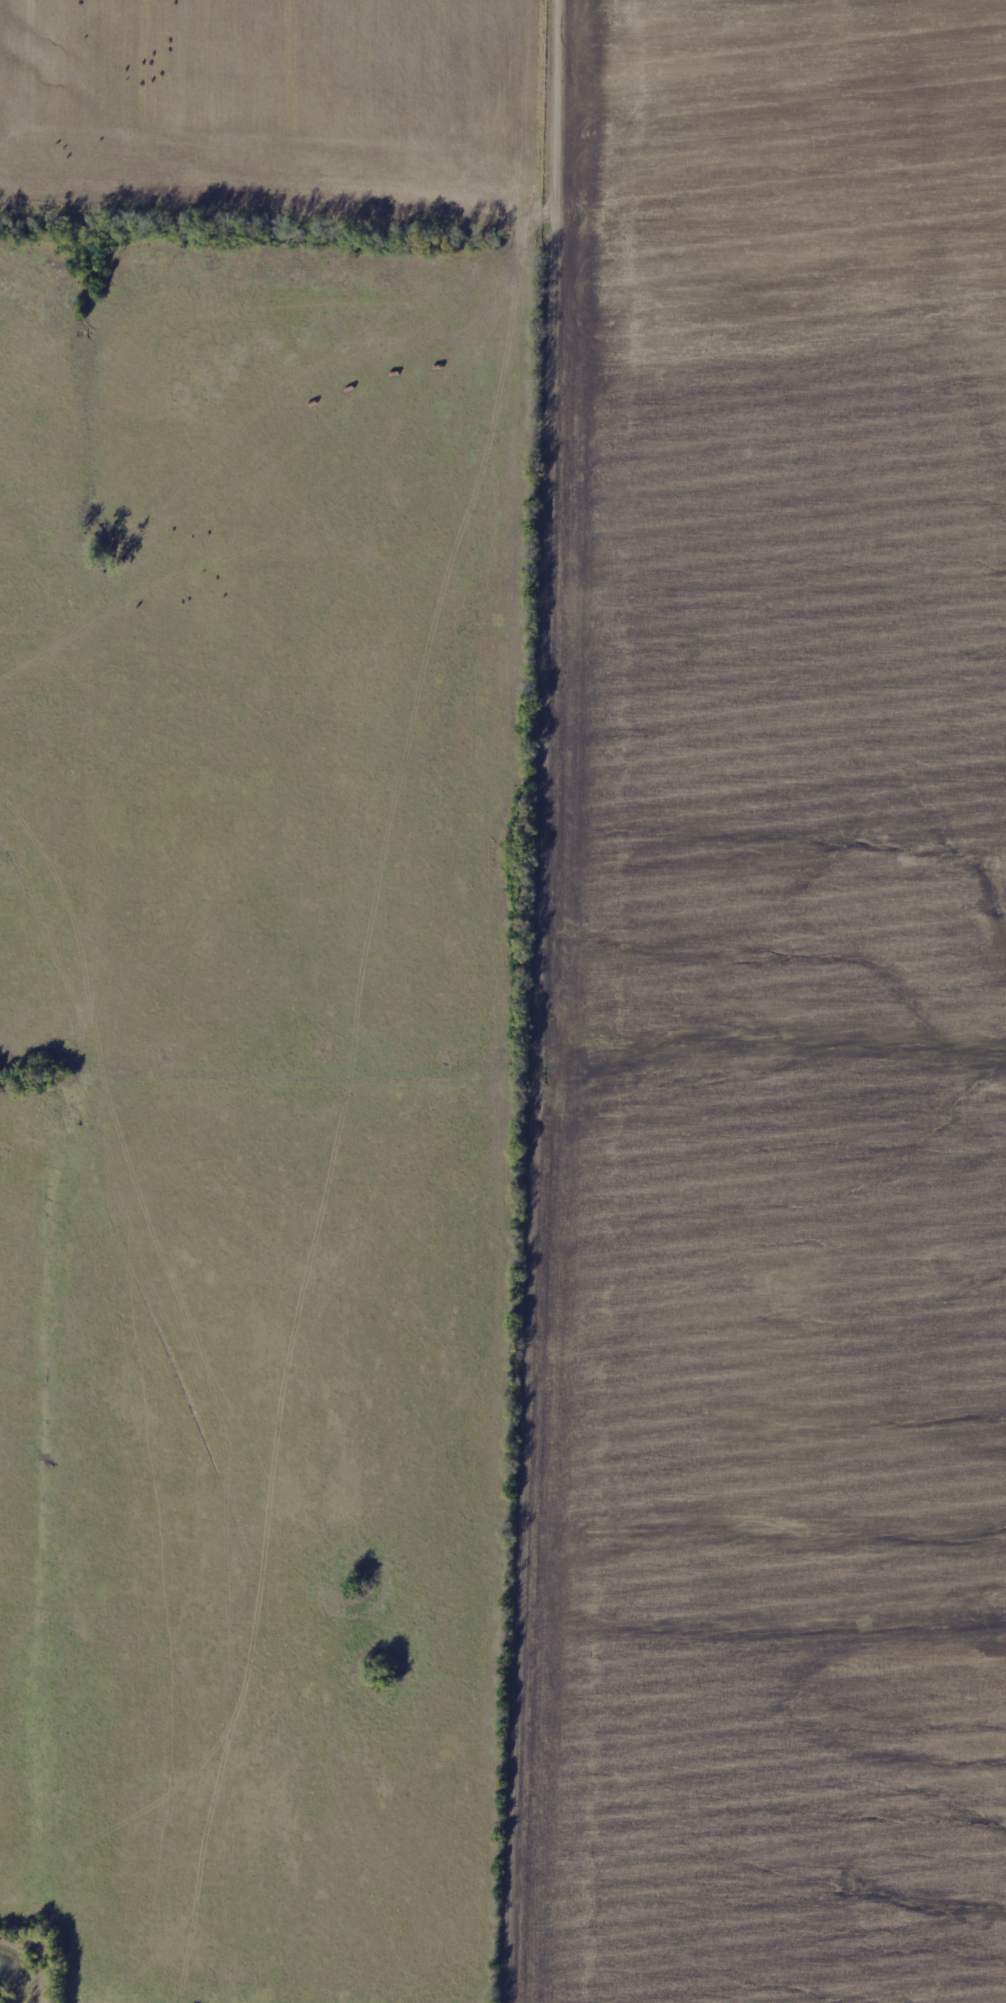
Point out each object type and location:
road: (530, 1001)

